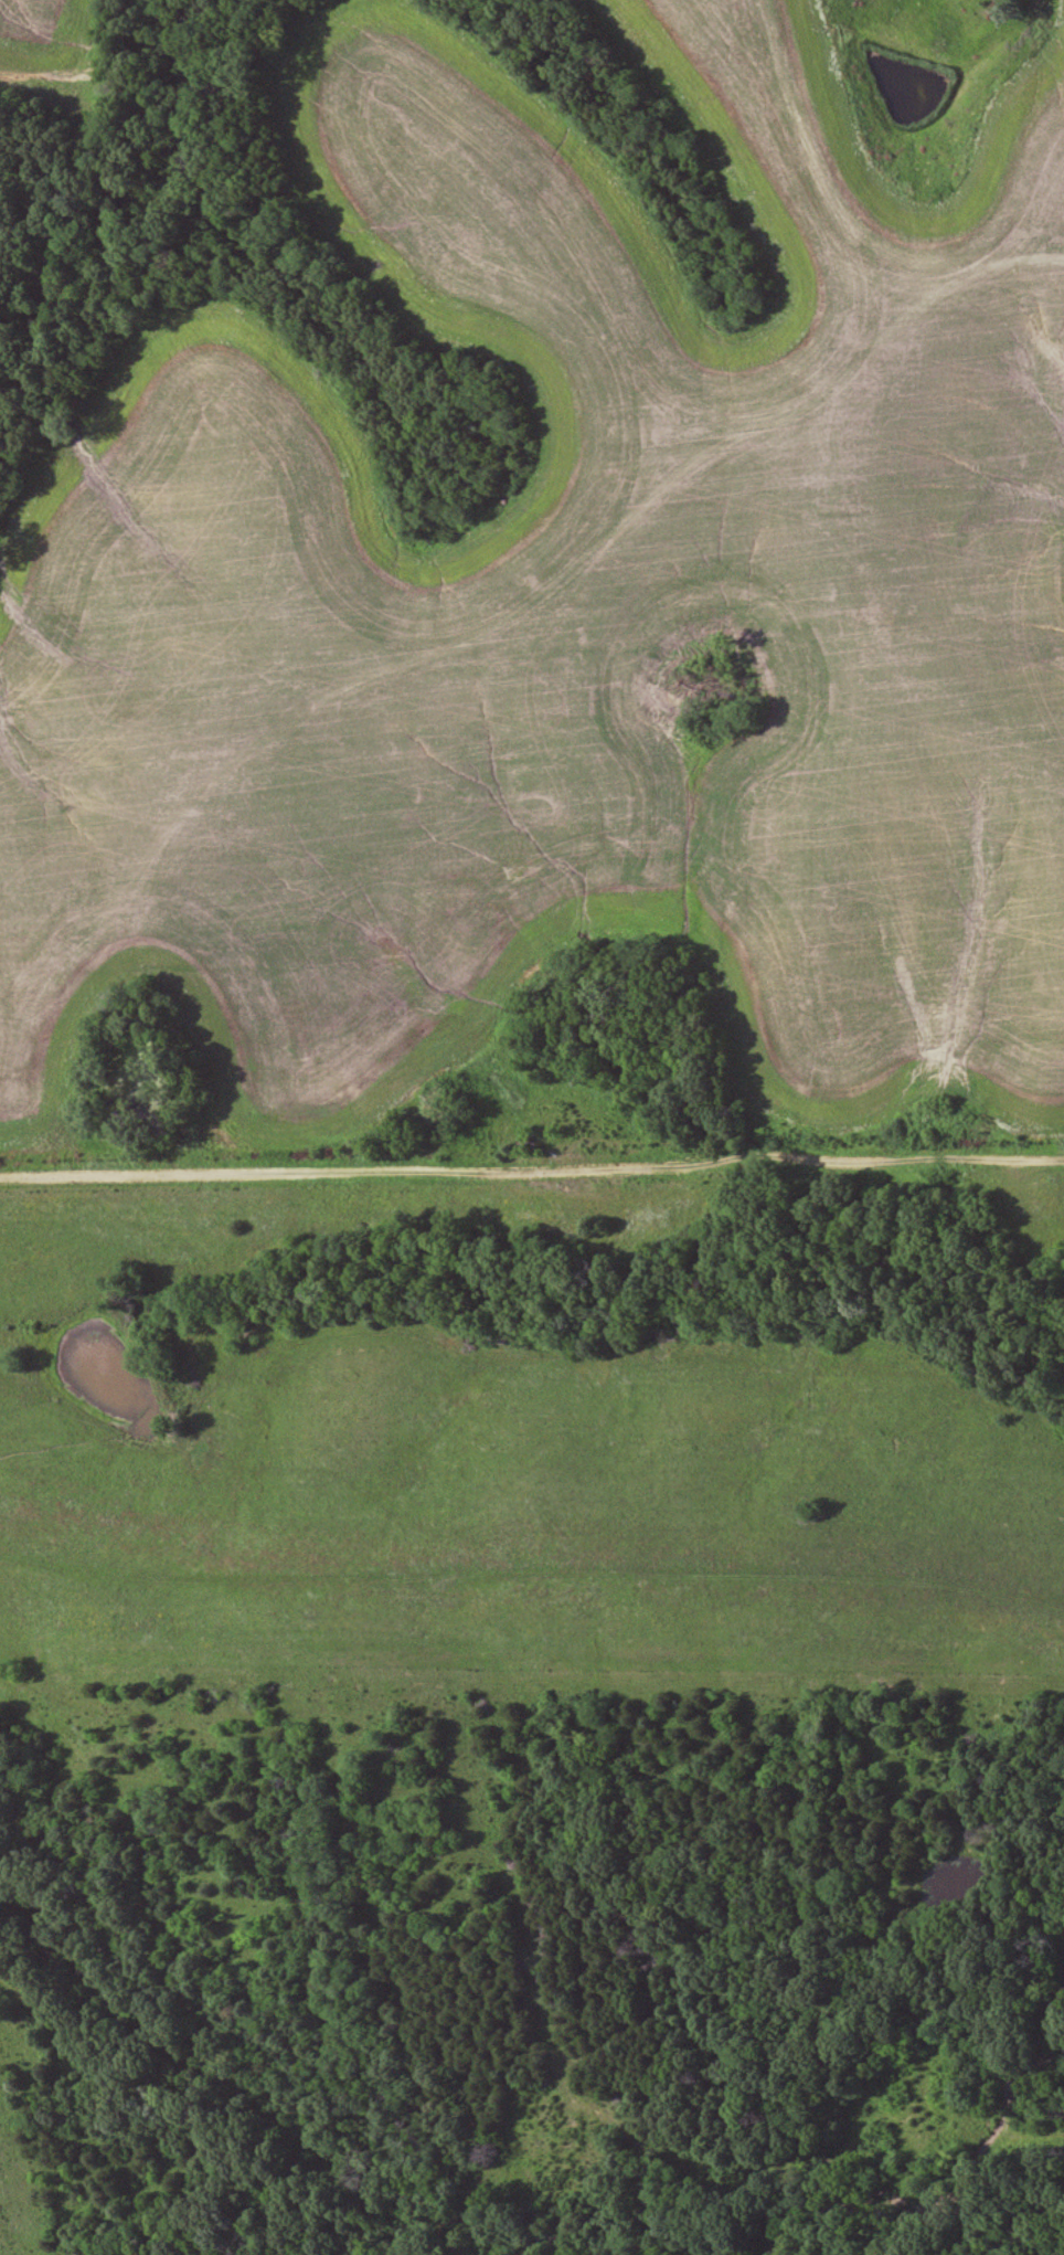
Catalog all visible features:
road: (532, 1169)

